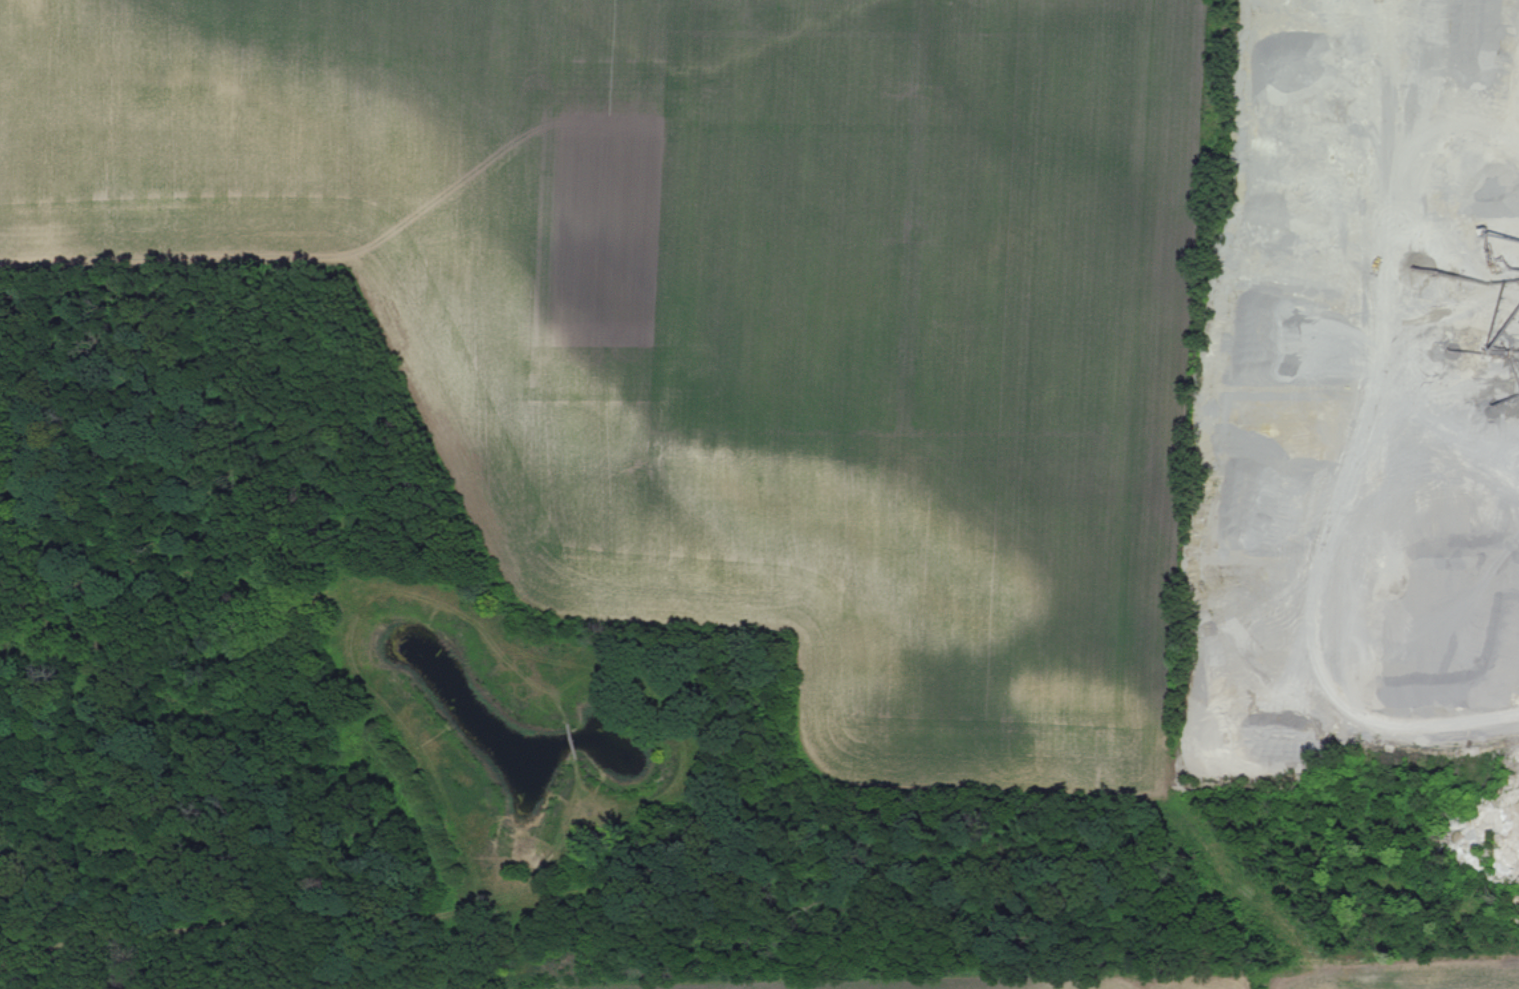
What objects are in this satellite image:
quarry: (1352, 392)

